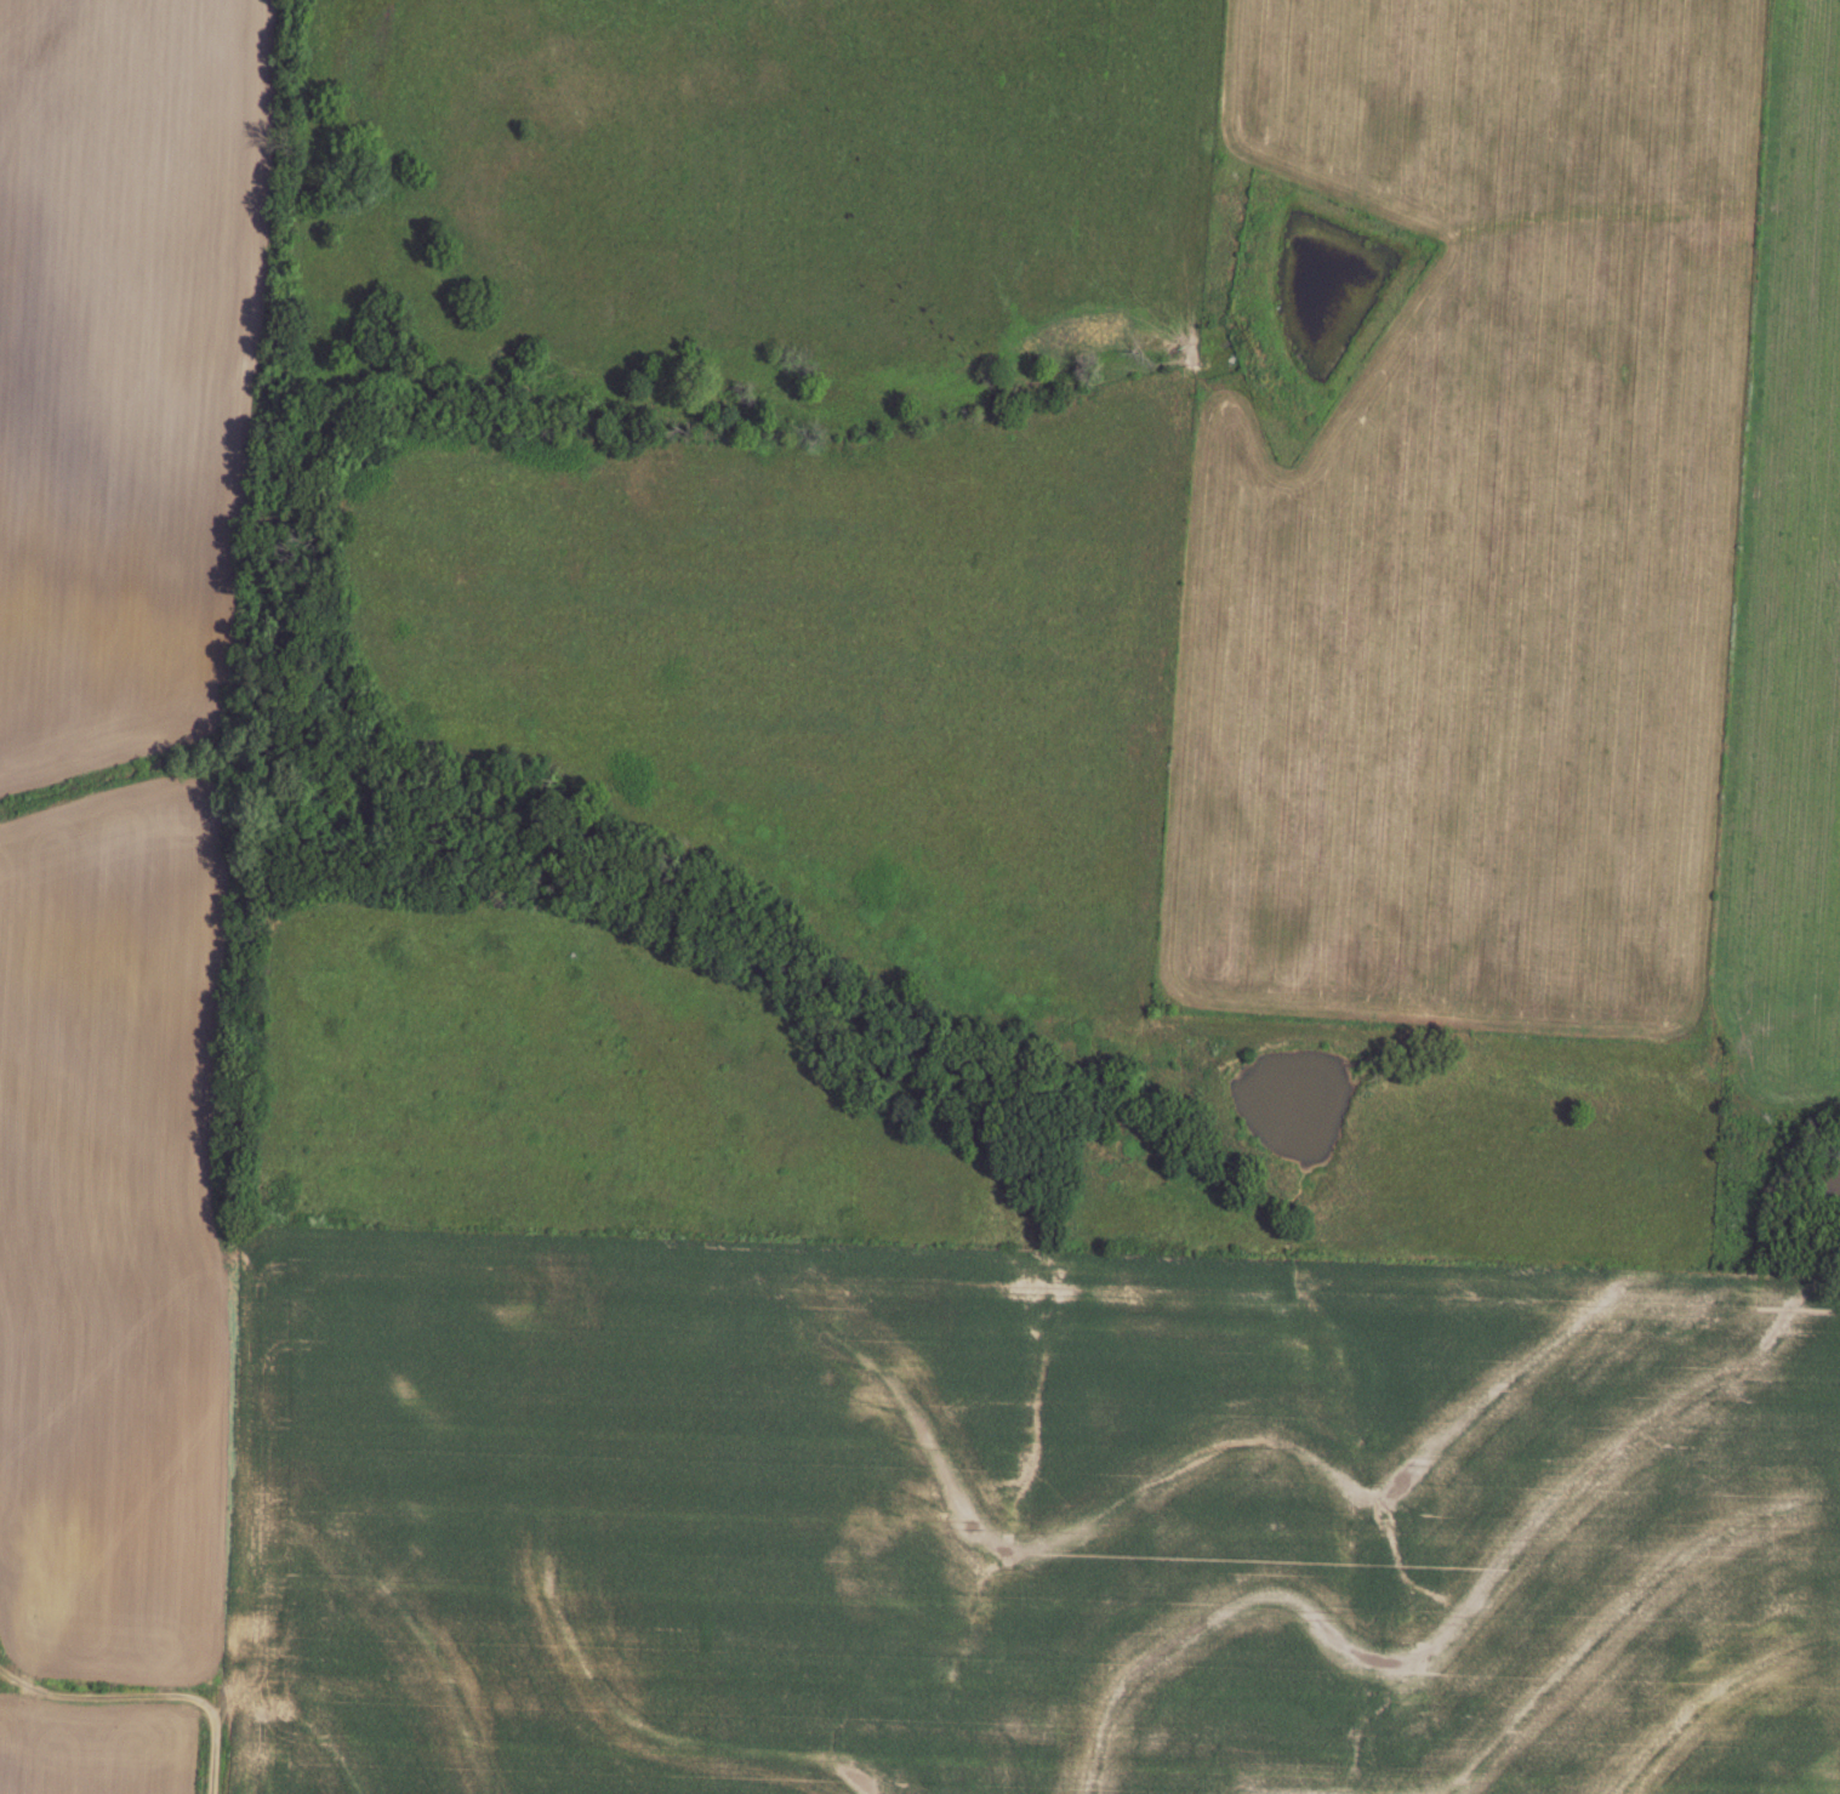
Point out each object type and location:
road: (144, 1695)

